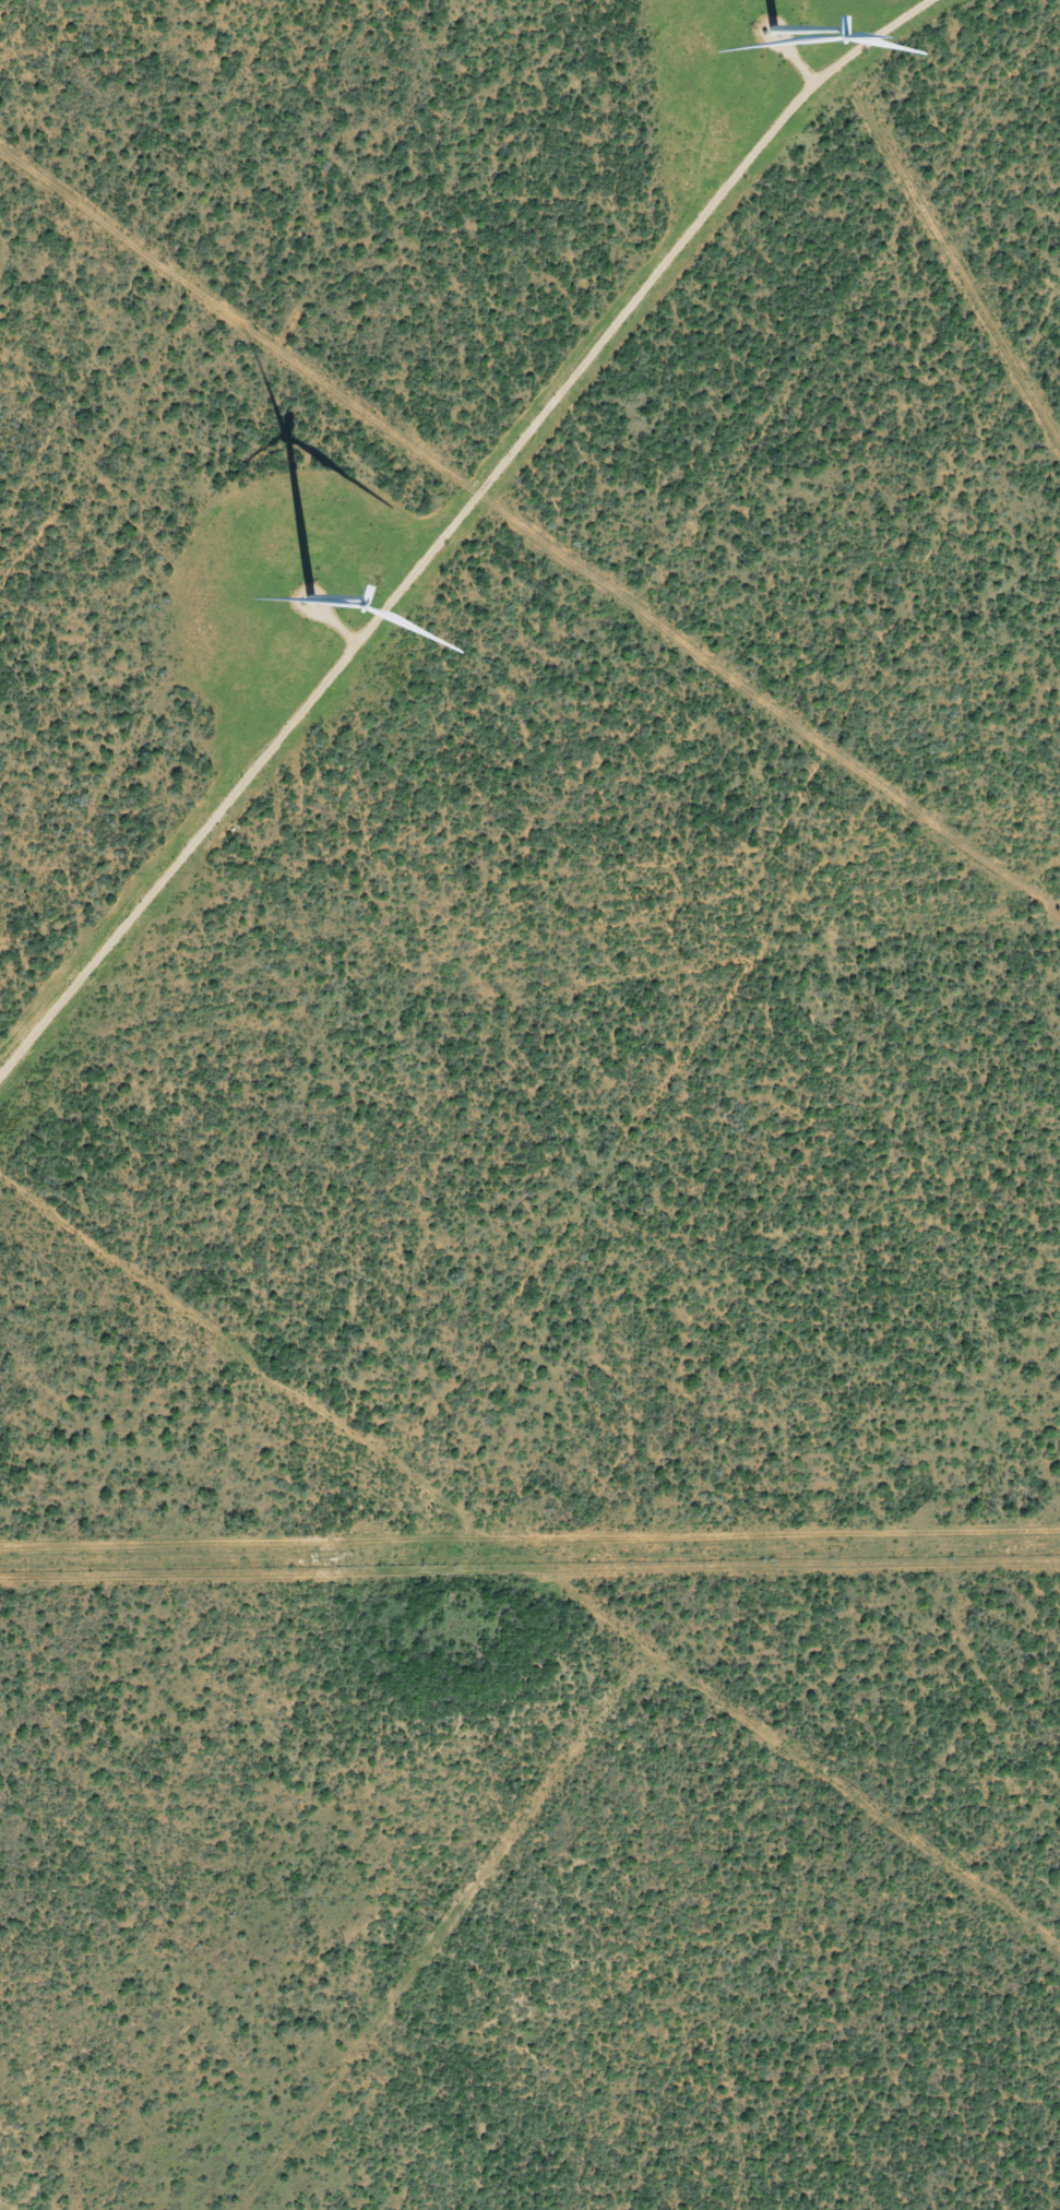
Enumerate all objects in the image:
wind turbine: (766, 45)
wind turbine: (310, 591)

